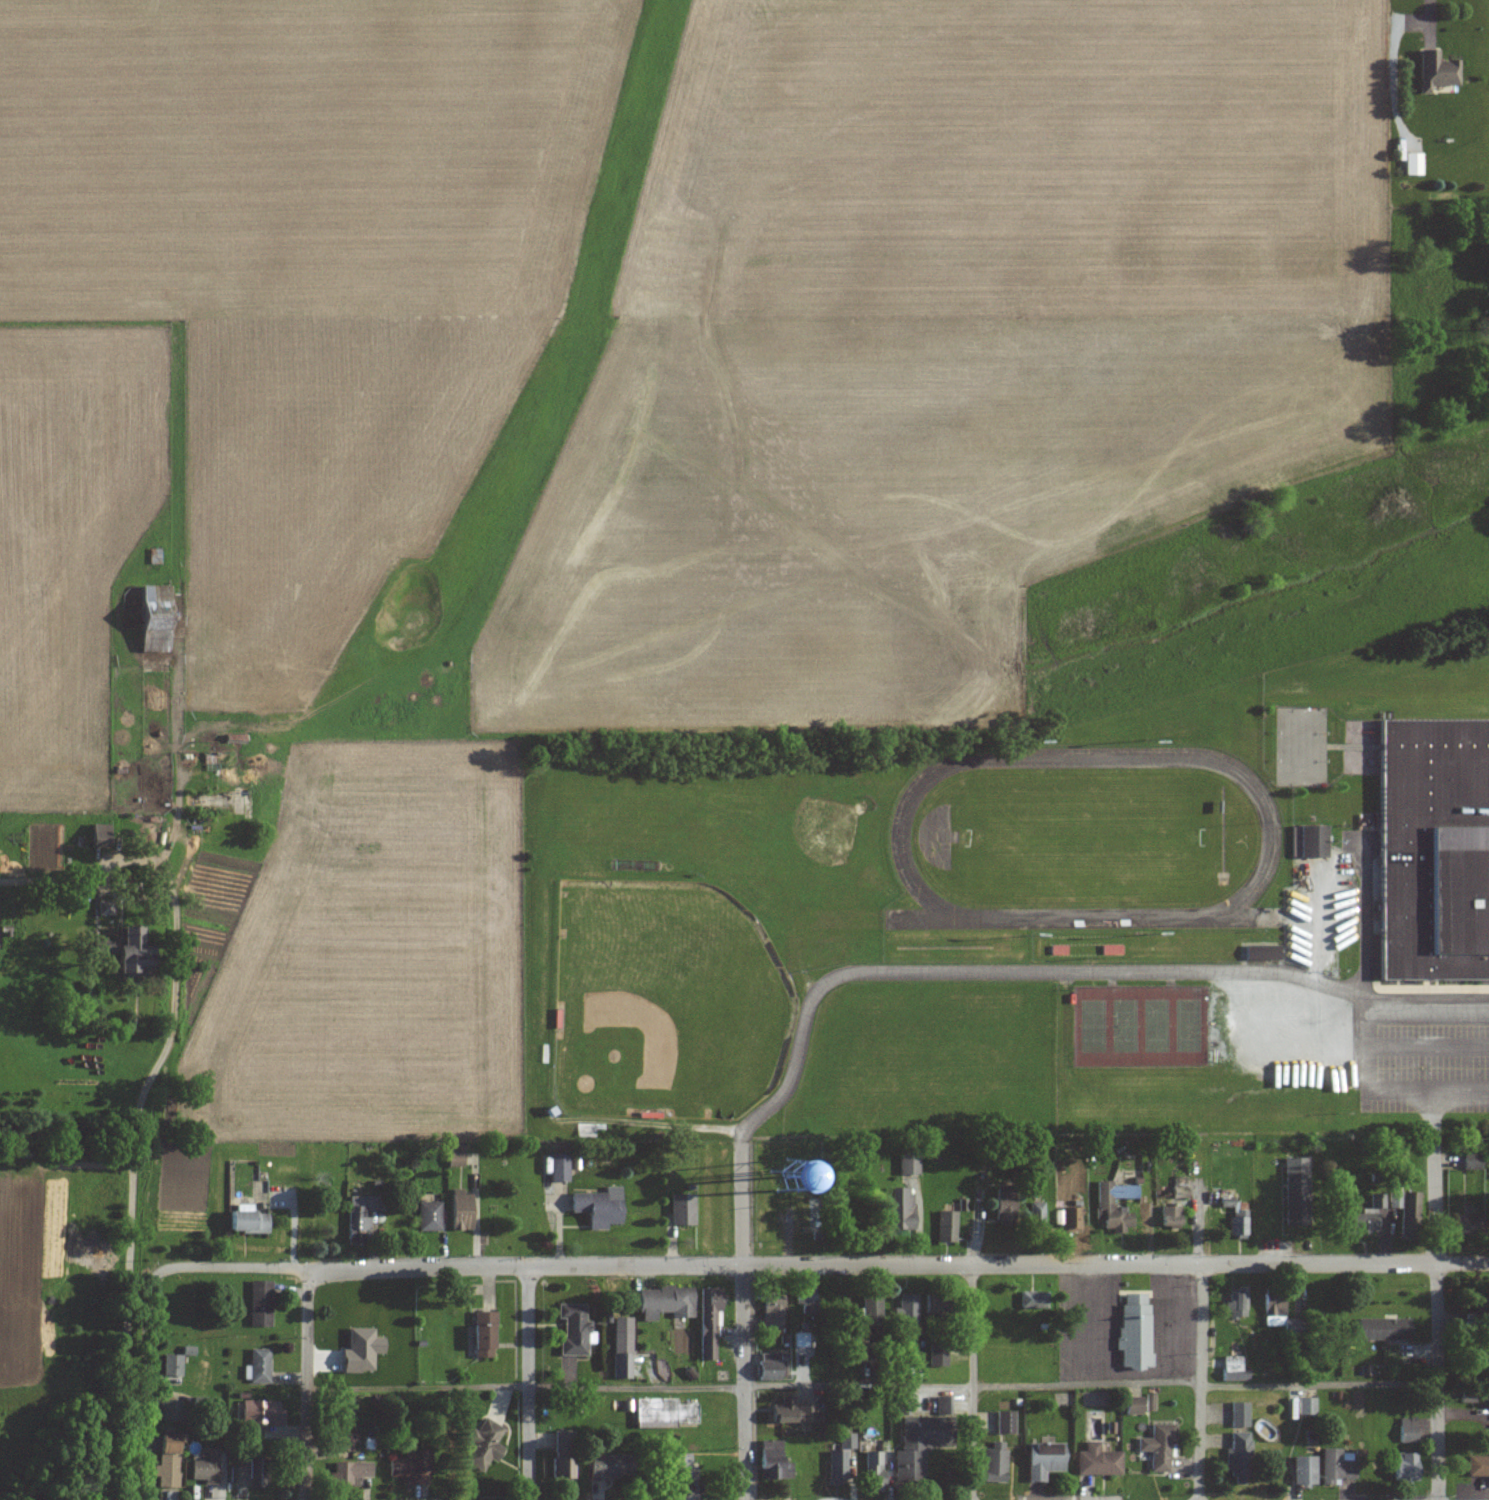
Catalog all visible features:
building: (152, 618)
building: (234, 739)
building: (96, 834)
track: (1085, 837)
park: (1087, 839)
building: (1310, 841)
building: (1435, 849)
road: (85, 875)
building: (103, 907)
track: (1225, 917)
track: (931, 919)
building: (120, 950)
road: (1320, 950)
building: (1262, 952)
road: (176, 958)
road: (1070, 971)
park: (664, 1001)
park: (1124, 1024)
road: (1366, 1024)
park: (1156, 1025)
park: (1188, 1025)
park: (1093, 1026)
road: (1437, 1091)
building: (455, 1159)
building: (1472, 1161)
building: (908, 1163)
building: (559, 1168)
water tower: (784, 1175)
building: (1296, 1191)
building: (1103, 1202)
road: (1436, 1203)
building: (1406, 1204)
building: (1004, 1205)
building: (598, 1207)
building: (901, 1208)
building: (461, 1210)
building: (682, 1210)
building: (1036, 1215)
building: (430, 1216)
building: (1364, 1217)
building: (1169, 1218)
building: (1068, 1219)
building: (1236, 1219)
building: (246, 1221)
building: (946, 1226)
building: (1467, 1226)
road: (821, 1264)
building: (1033, 1300)
building: (666, 1302)
building: (1237, 1303)
building: (260, 1304)
building: (870, 1308)
building: (907, 1309)
building: (773, 1312)
building: (1275, 1312)
building: (709, 1321)
road: (746, 1324)
building: (1383, 1329)
building: (573, 1330)
building: (482, 1333)
building: (1133, 1333)
building: (801, 1340)
building: (622, 1348)
building: (361, 1351)
building: (937, 1358)
building: (260, 1366)
building: (771, 1366)
building: (172, 1367)
building: (1233, 1369)
road: (972, 1381)
road: (1437, 1381)
road: (528, 1382)
road: (1199, 1382)
road: (1303, 1382)
road: (309, 1384)
road: (873, 1385)
road: (150, 1389)
building: (1150, 1402)
building: (901, 1405)
building: (1133, 1405)
building: (943, 1406)
building: (1307, 1406)
building: (344, 1409)
building: (167, 1410)
building: (791, 1412)
building: (262, 1413)
building: (664, 1413)
building: (1240, 1415)
building: (1004, 1422)
building: (1408, 1430)
building: (344, 1442)
building: (483, 1445)
building: (914, 1446)
building: (1158, 1448)
building: (1238, 1458)
building: (838, 1460)
building: (1043, 1460)
building: (168, 1461)
building: (1097, 1461)
building: (772, 1462)
building: (994, 1463)
building: (205, 1466)
building: (413, 1466)
building: (607, 1466)
building: (1337, 1466)
building: (1477, 1466)
building: (560, 1468)
building: (682, 1468)
building: (1403, 1468)
building: (1304, 1470)
building: (350, 1472)
building: (874, 1472)
building: (254, 1473)
building: (236, 1475)

